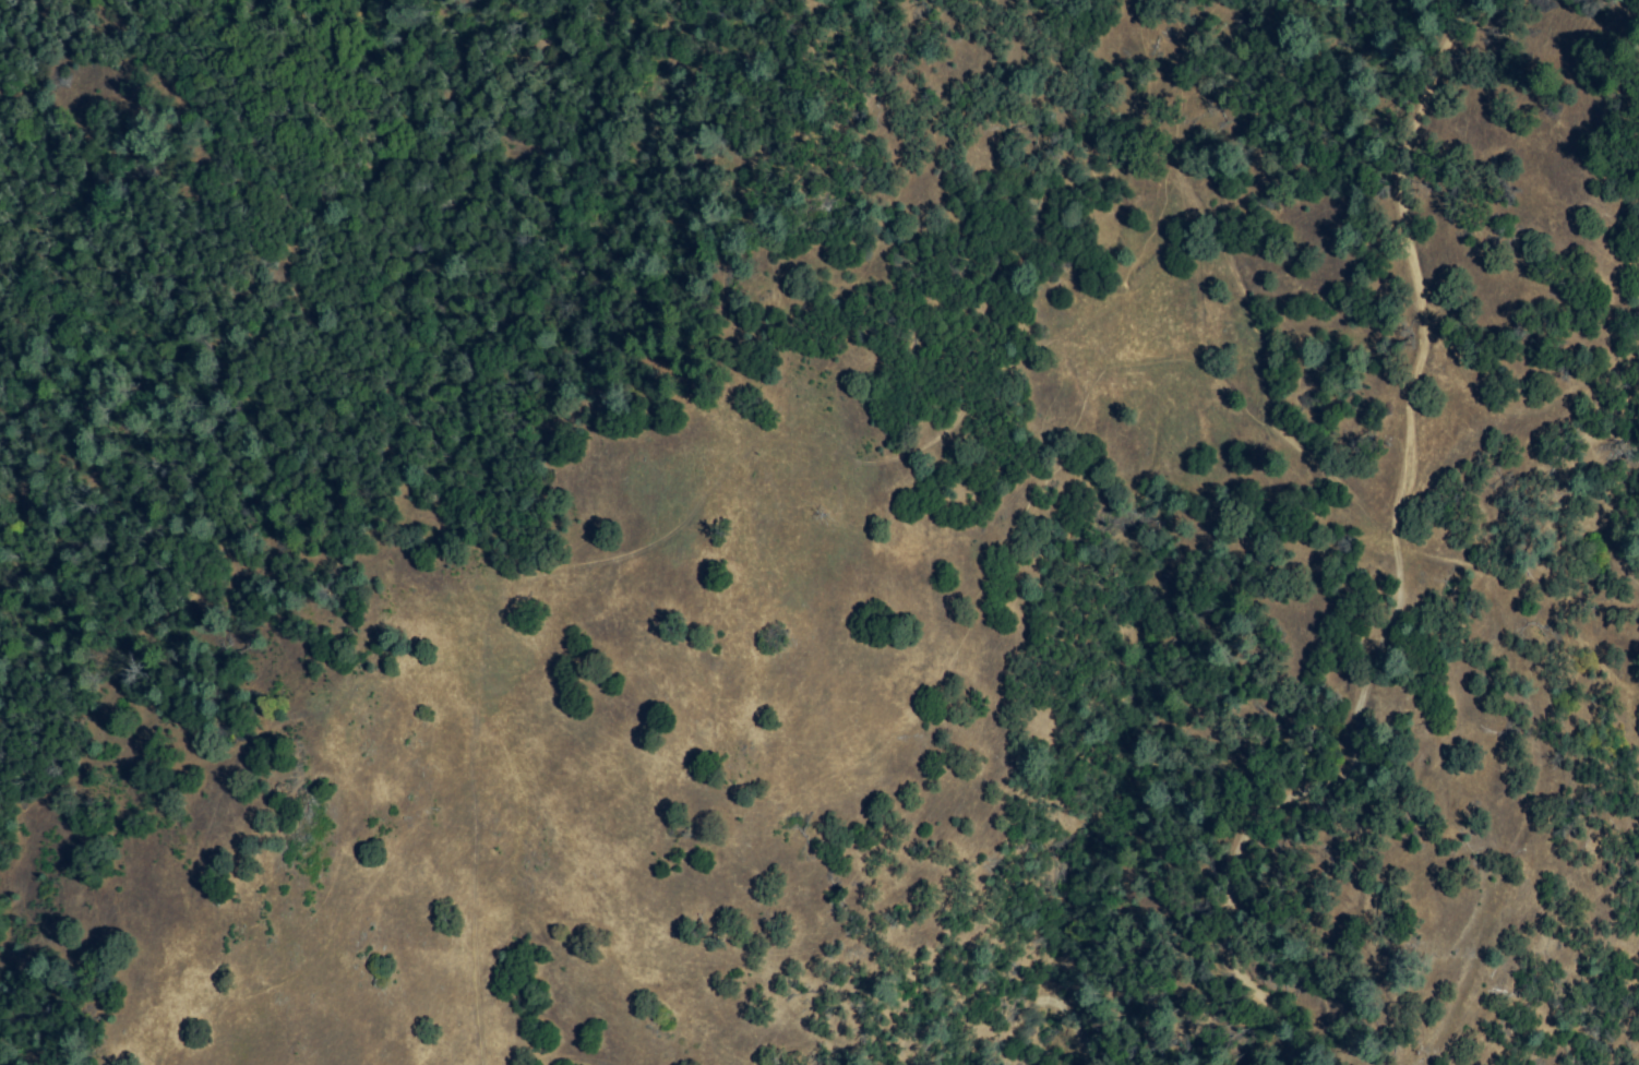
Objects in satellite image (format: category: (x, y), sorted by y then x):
road: (1413, 363)
road: (1608, 542)

